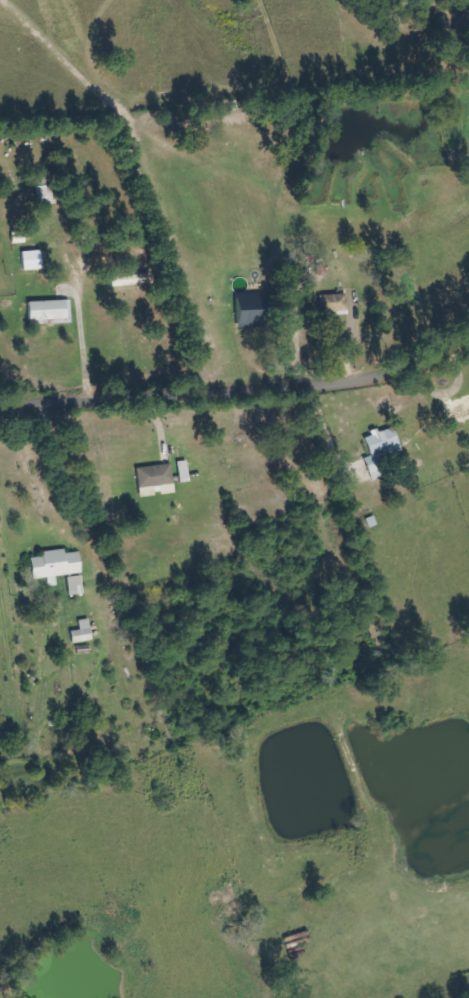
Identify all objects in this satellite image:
building: (45, 189)
building: (33, 261)
building: (130, 278)
building: (334, 304)
building: (50, 311)
building: (252, 319)
road: (240, 388)
building: (382, 450)
building: (156, 481)
building: (56, 566)
building: (76, 586)
building: (83, 633)

